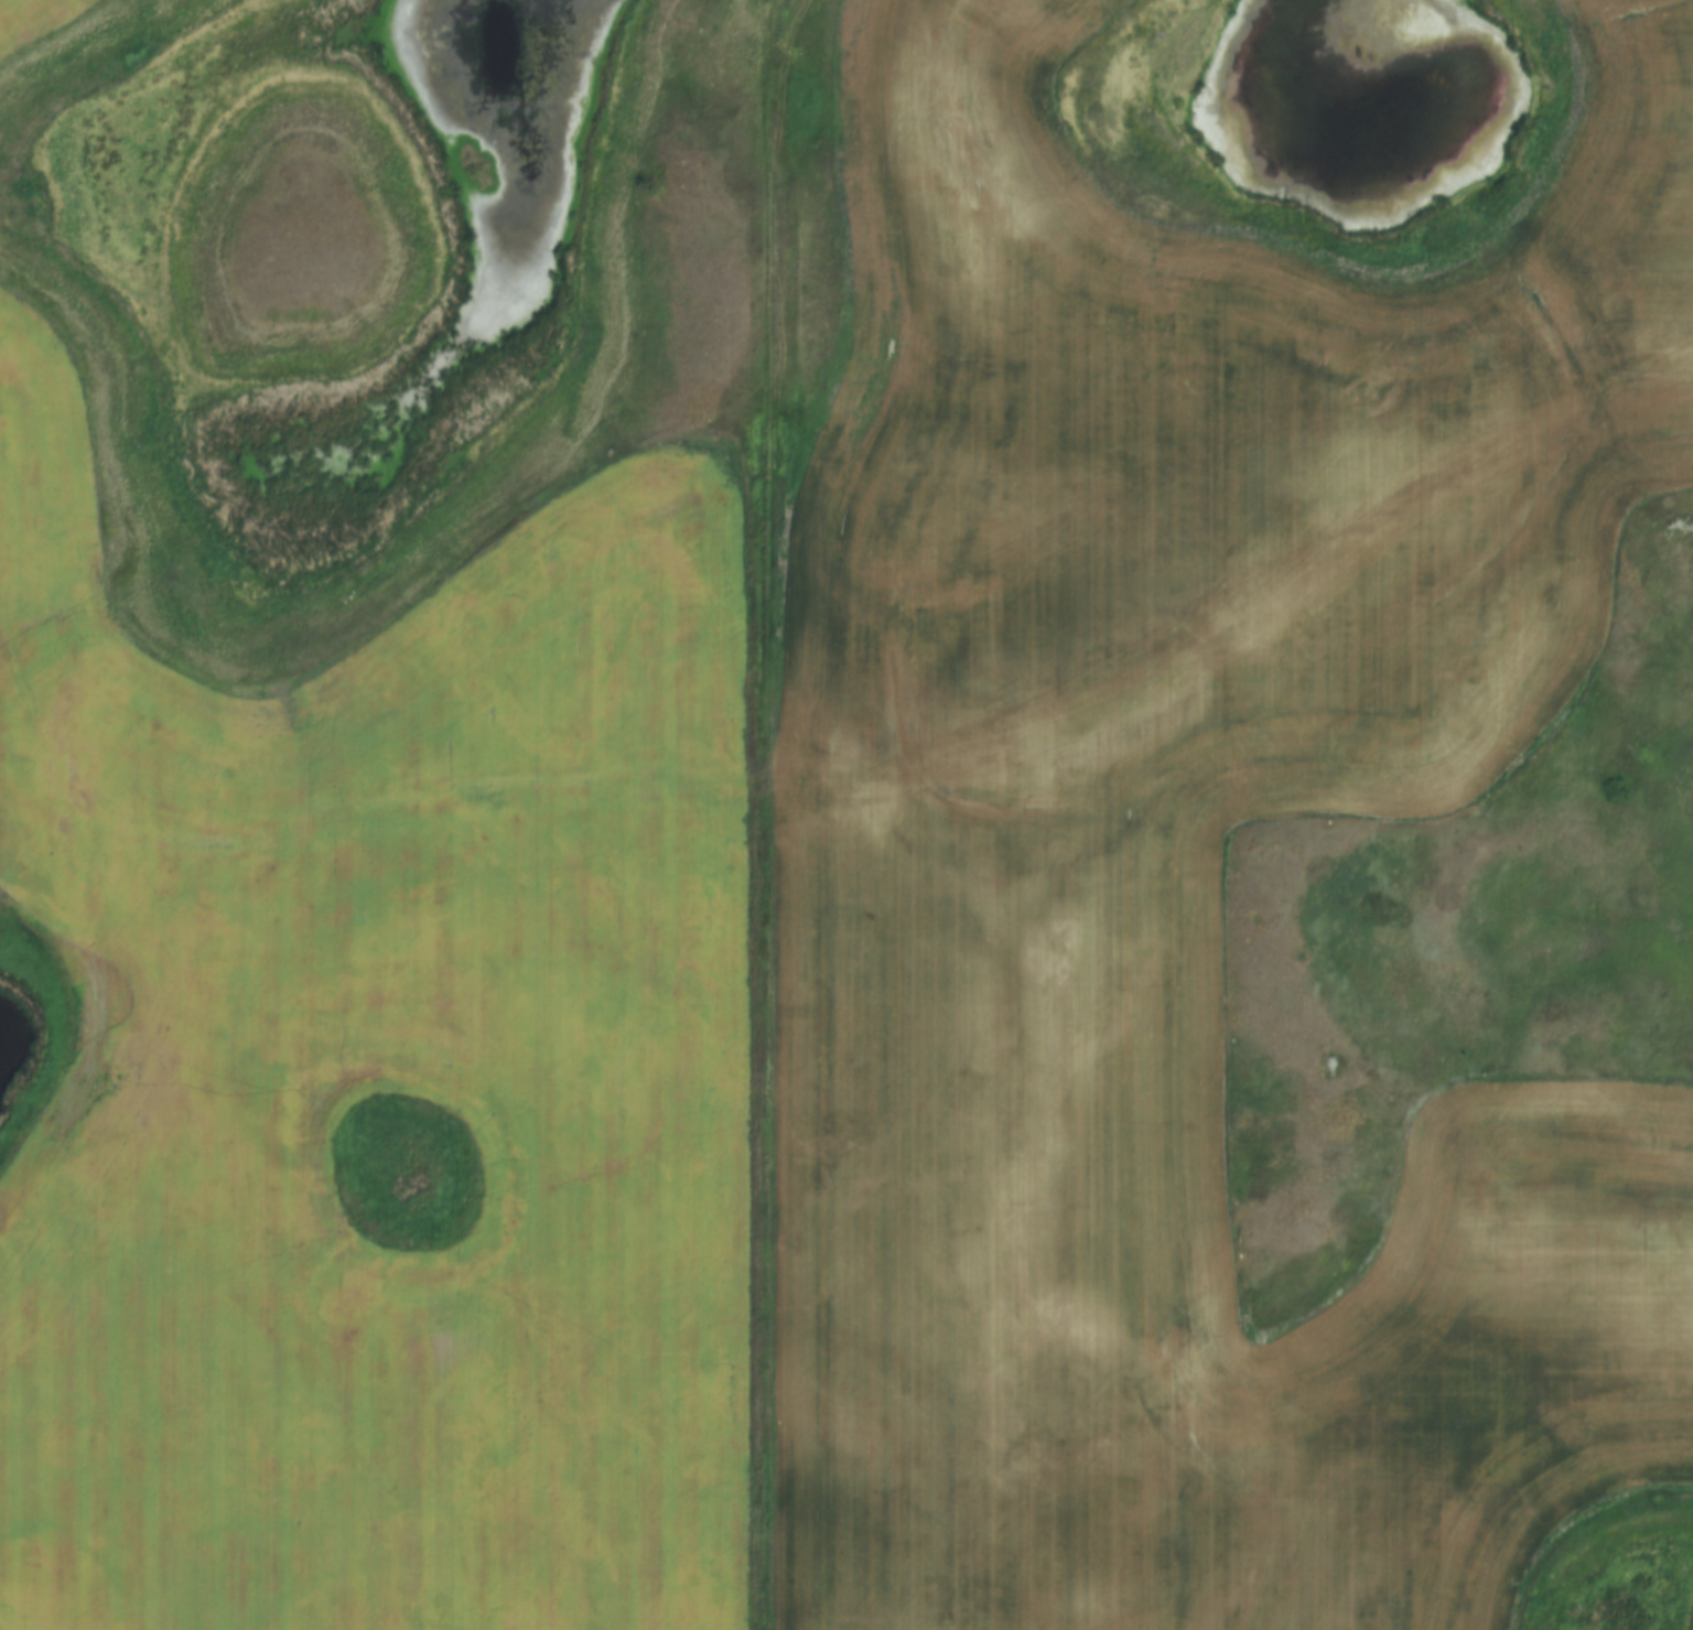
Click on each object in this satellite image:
road: (780, 812)

